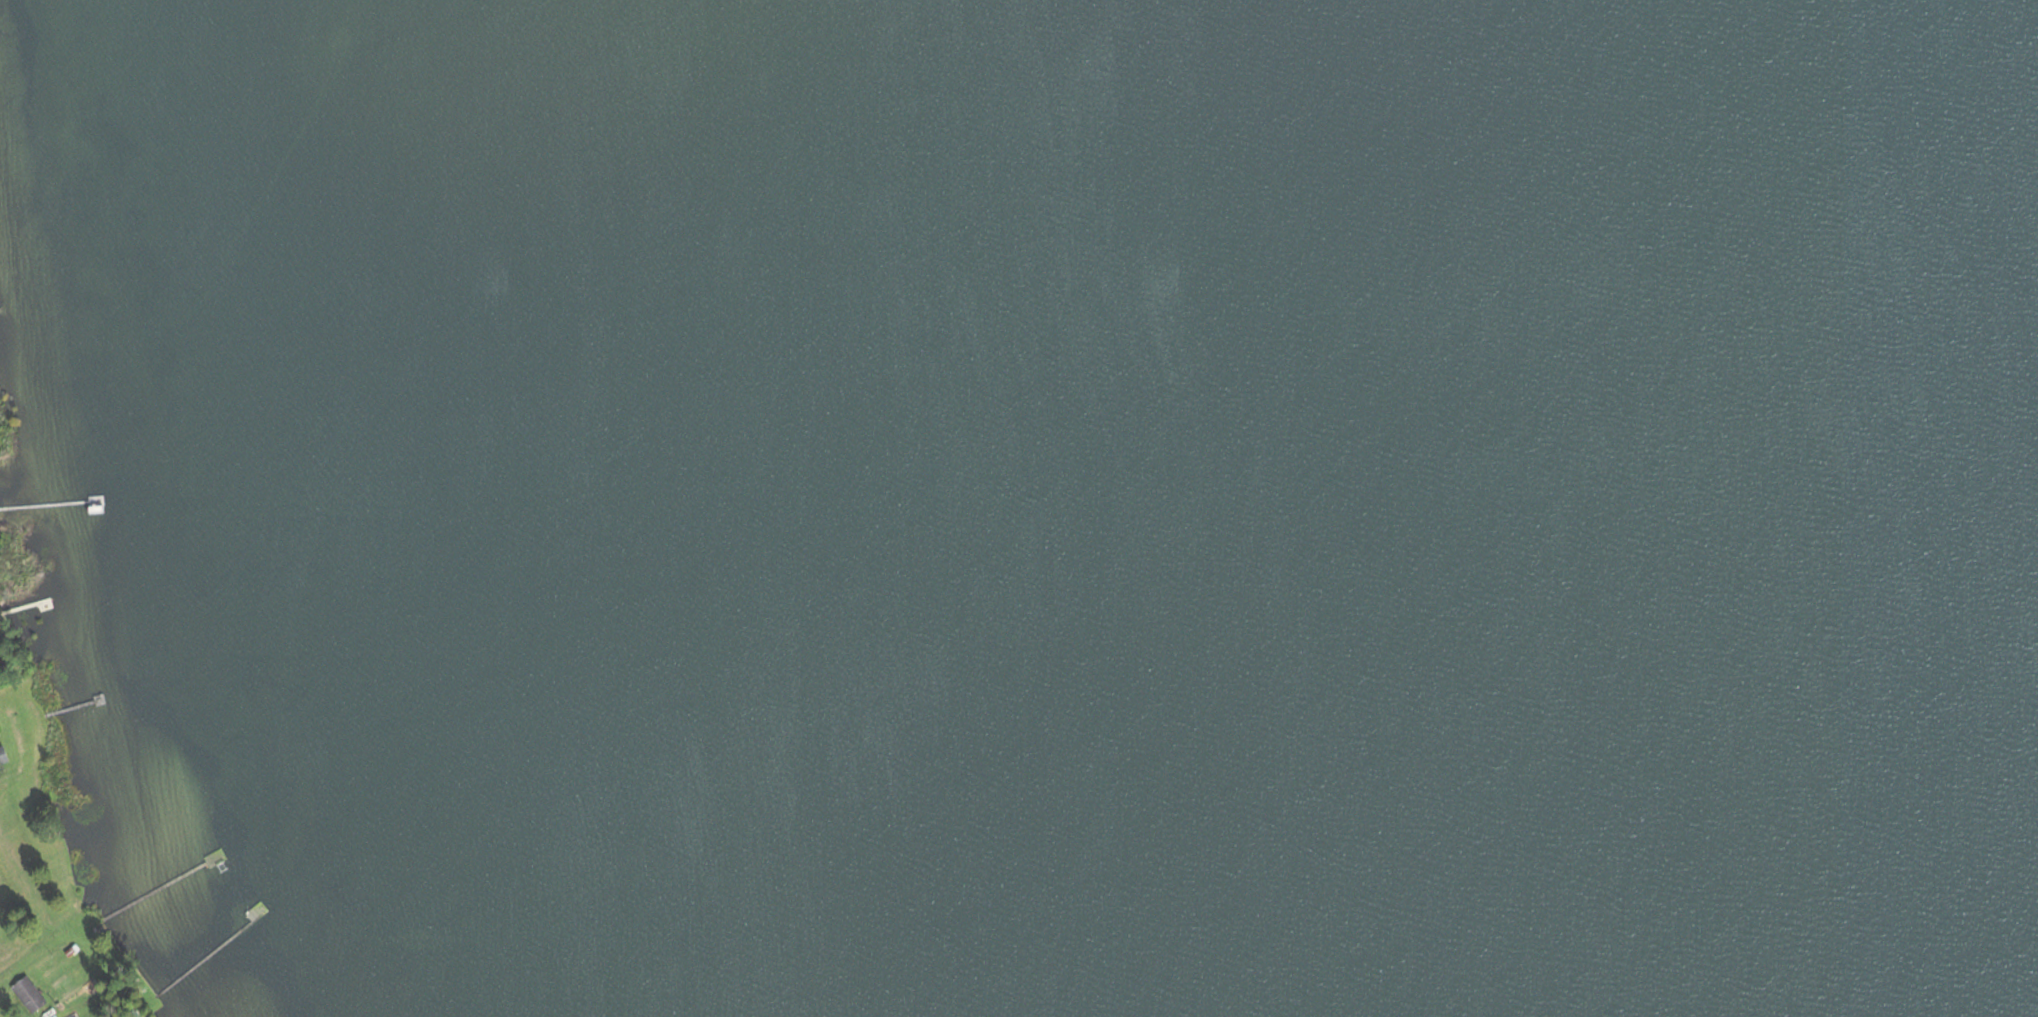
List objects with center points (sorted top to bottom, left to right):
building: (1, 756)
building: (25, 993)
building: (71, 1016)

